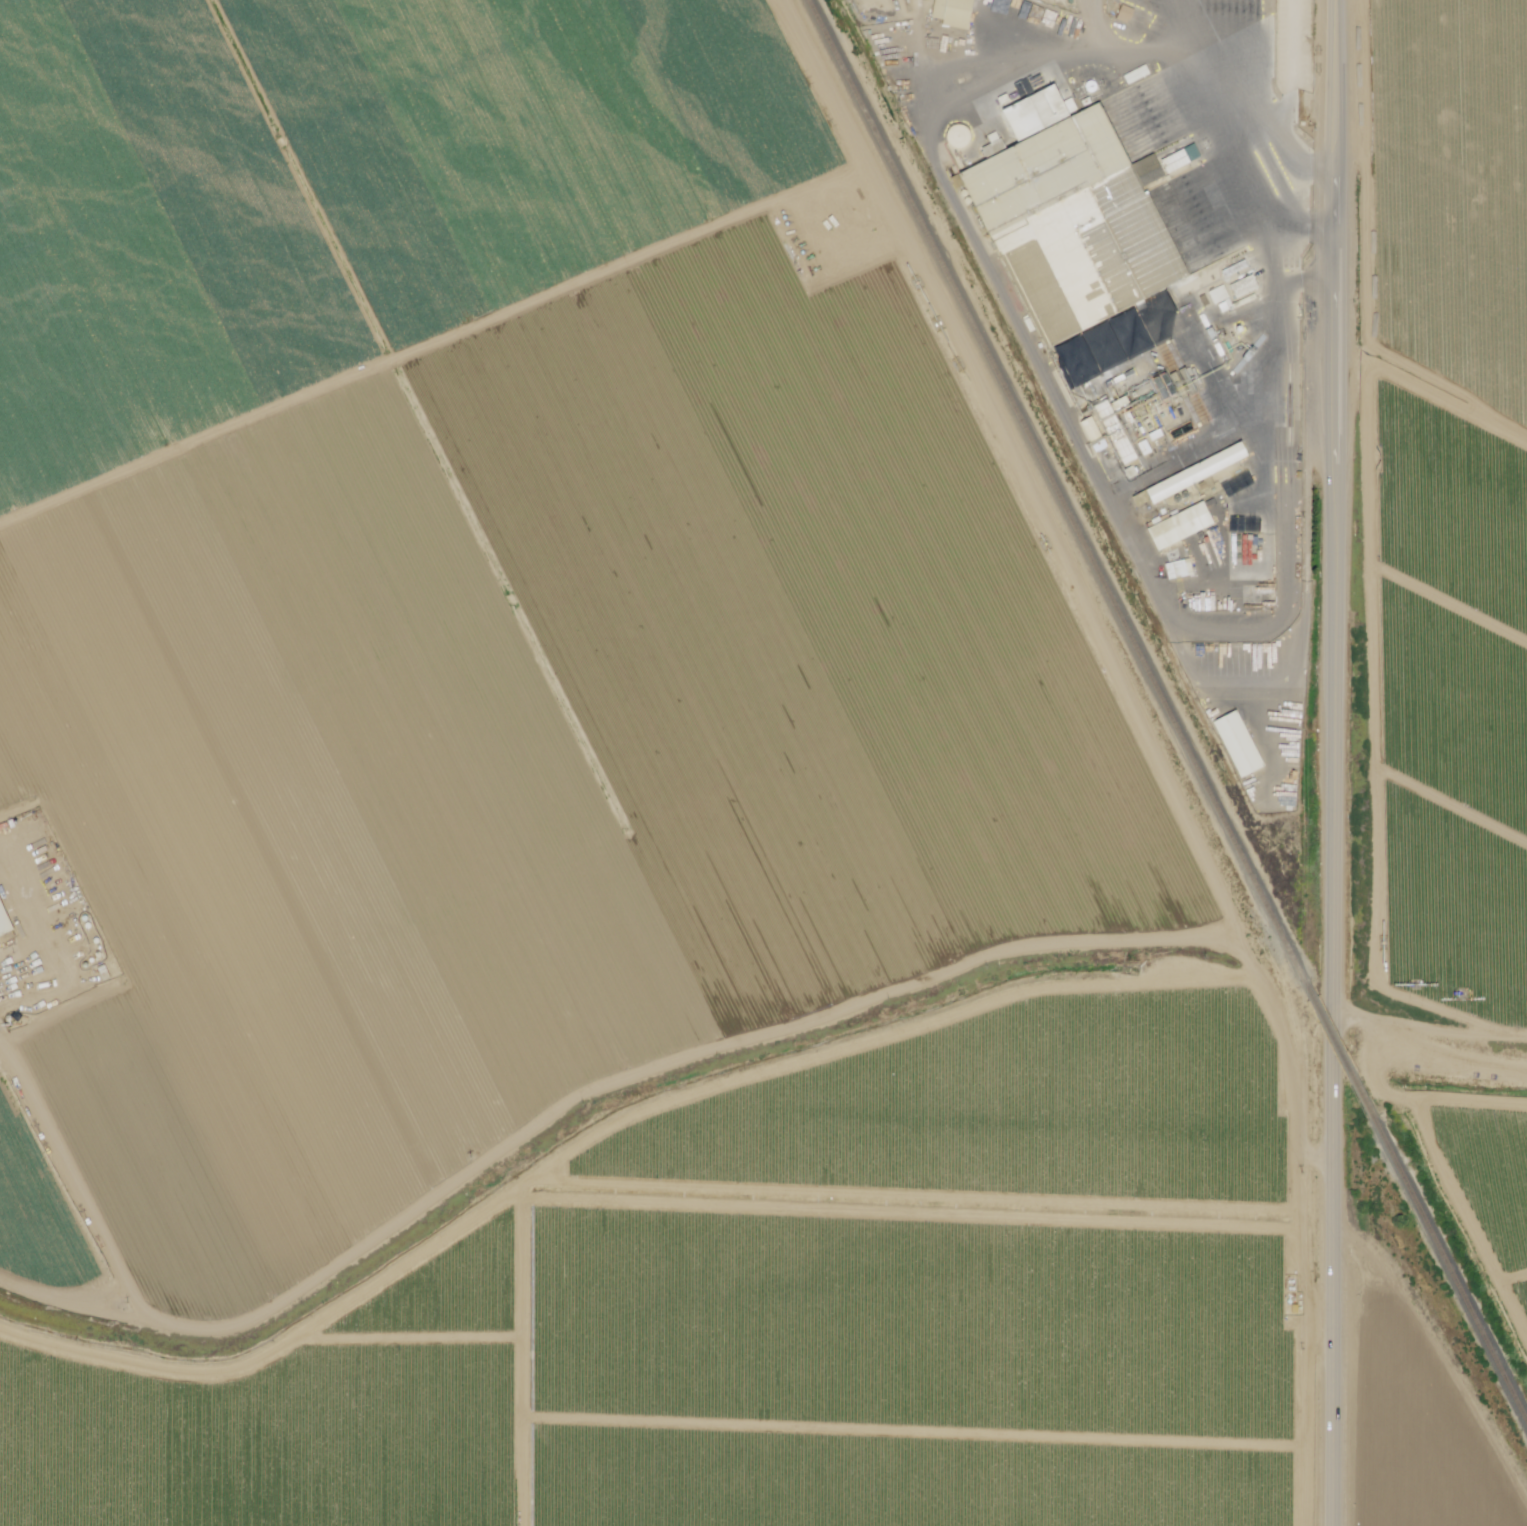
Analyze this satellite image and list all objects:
crop: (4, 1)
building: (954, 12)
parking lot: (1209, 27)
road: (1236, 43)
parking lot: (1296, 45)
crop: (373, 46)
crop: (1454, 87)
road: (1288, 106)
crop: (112, 108)
crop: (569, 158)
building: (1072, 219)
crop: (168, 322)
crop: (1449, 326)
crop: (688, 380)
building: (1122, 448)
railway: (1054, 488)
building: (1138, 495)
building: (1169, 531)
crop: (226, 579)
crop: (809, 623)
crop: (1451, 630)
road: (1332, 763)
crop: (321, 830)
crop: (1452, 898)
building: (3, 921)
crop: (611, 987)
railway: (1338, 1050)
crop: (1491, 1180)
crop: (36, 1215)
railway: (1451, 1273)
crop: (793, 1313)
crop: (1417, 1434)

